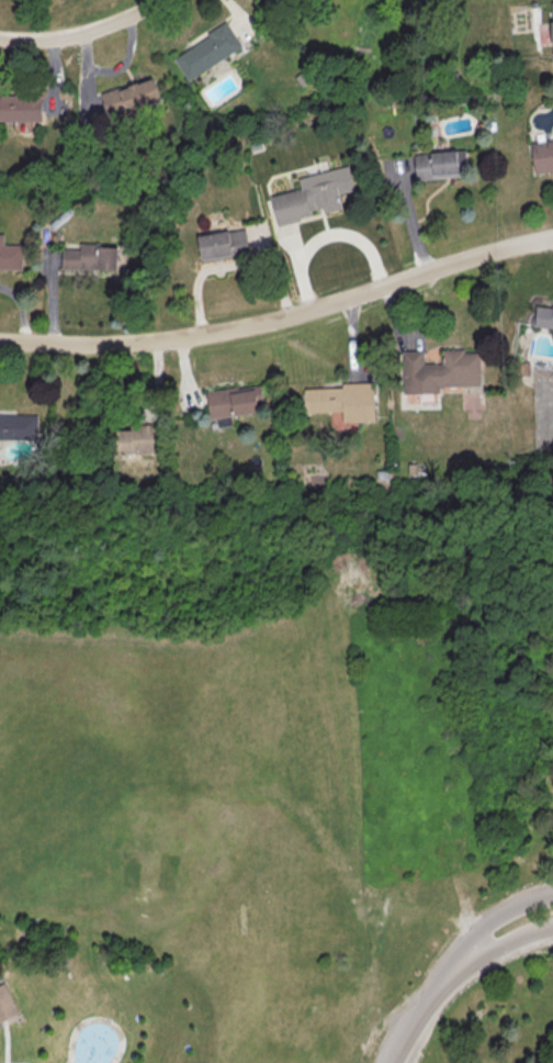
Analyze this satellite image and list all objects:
building: (552, 24)
road: (82, 27)
building: (208, 54)
building: (129, 99)
building: (20, 110)
building: (542, 157)
building: (440, 164)
building: (313, 198)
building: (224, 247)
building: (10, 257)
building: (90, 259)
building: (544, 316)
road: (281, 320)
road: (394, 323)
road: (351, 342)
building: (439, 373)
building: (234, 403)
building: (343, 404)
building: (18, 426)
building: (136, 439)
park: (278, 774)
road: (493, 920)
road: (500, 943)
building: (5, 1005)
road: (424, 1015)
park: (95, 1041)
road: (7, 1042)
road: (323, 1062)

